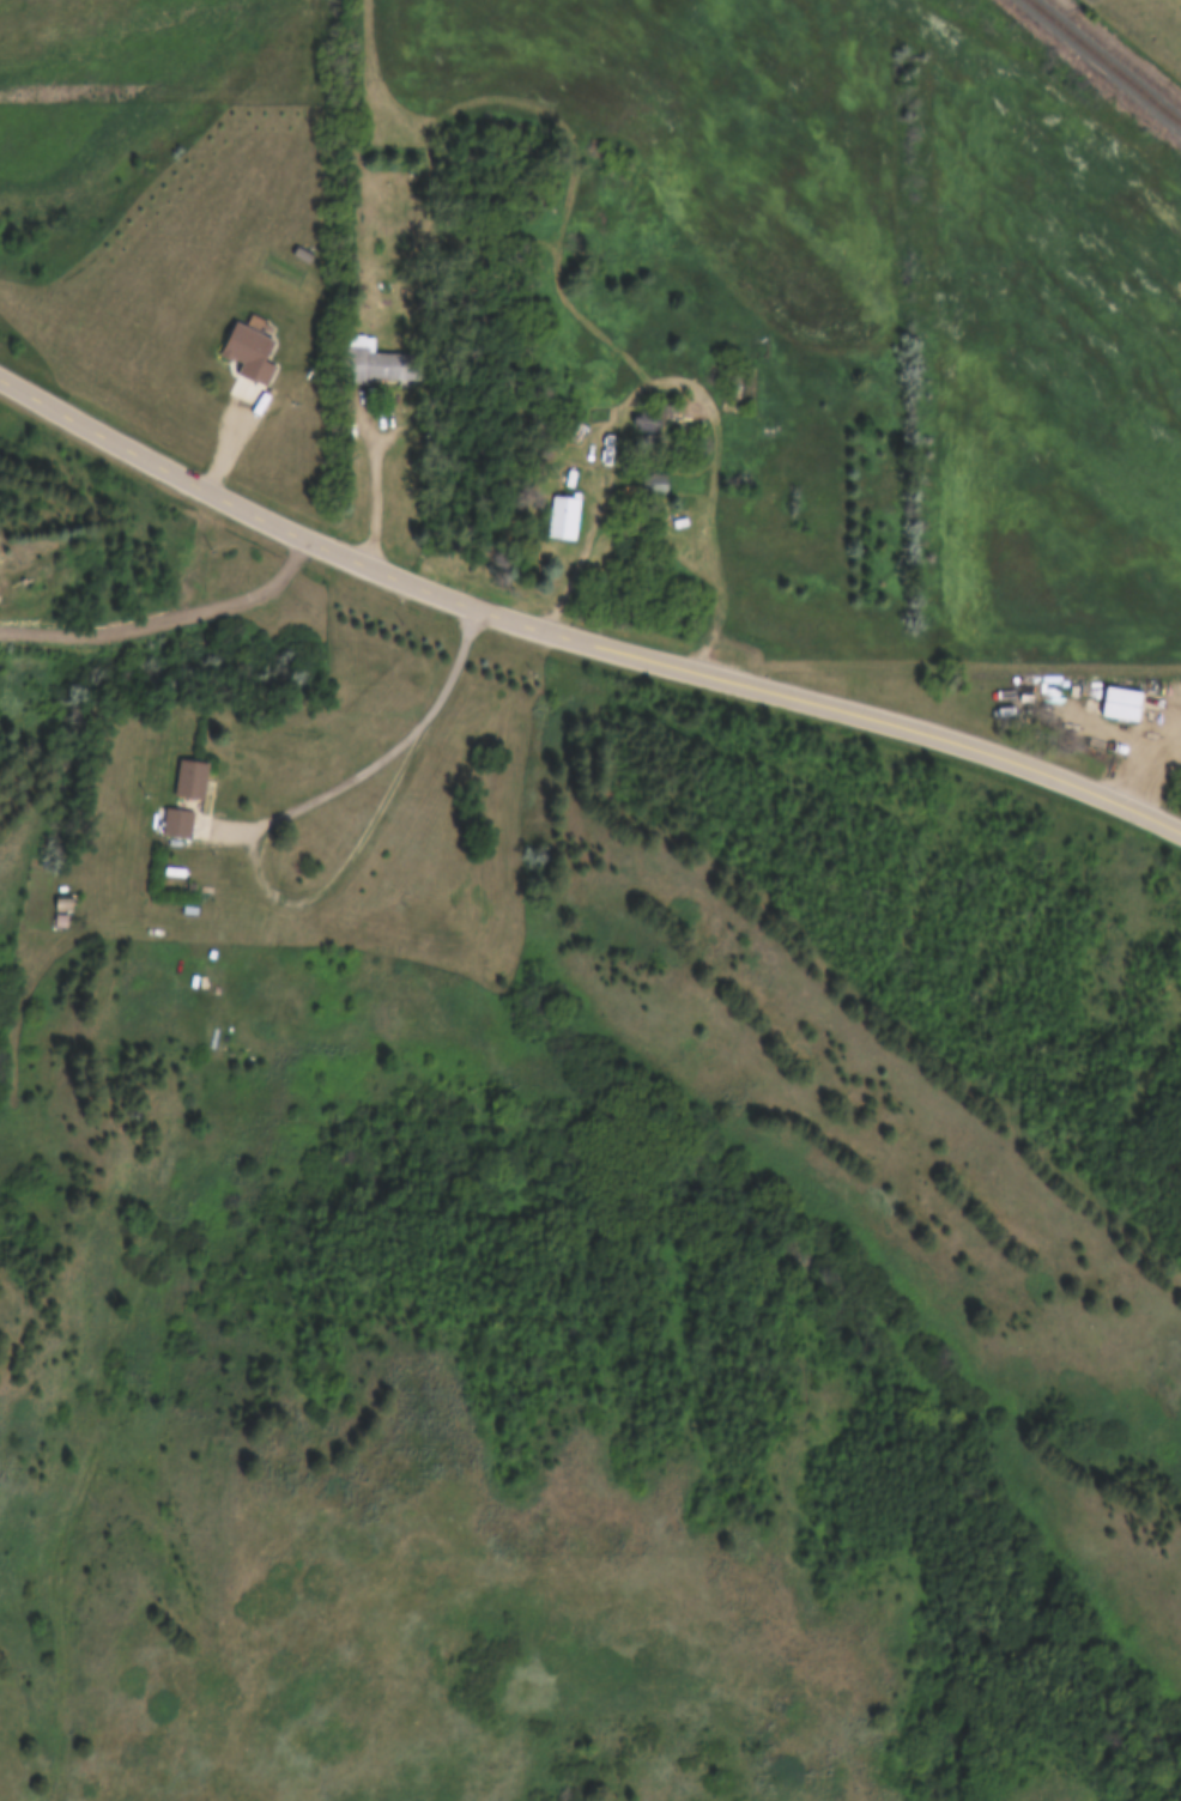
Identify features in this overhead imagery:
railway: (1103, 61)
building: (378, 363)
road: (705, 405)
building: (644, 423)
road: (378, 447)
building: (652, 484)
building: (559, 517)
road: (588, 544)
road: (576, 635)
road: (932, 659)
building: (1119, 703)
road: (376, 760)
road: (1140, 763)
building: (189, 780)
building: (175, 825)
building: (59, 921)

